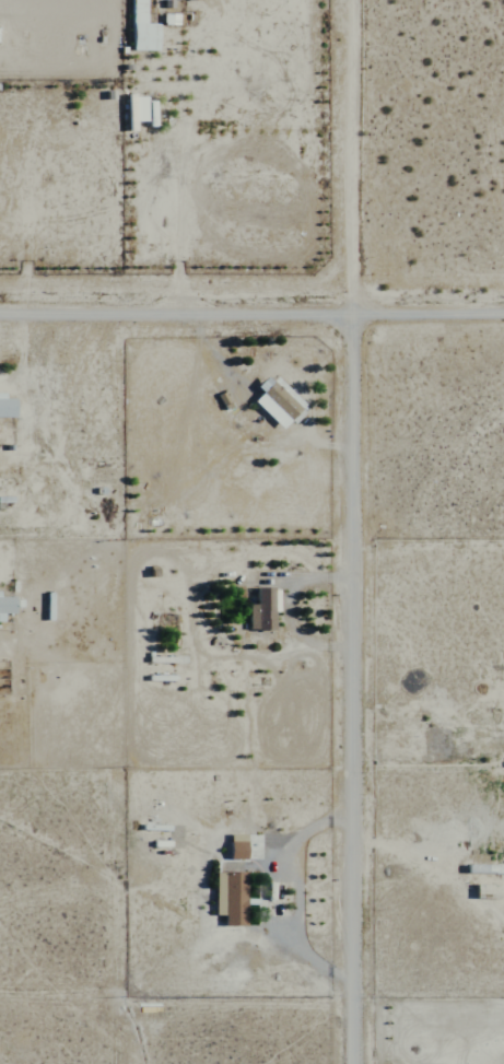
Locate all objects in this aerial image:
road: (251, 311)
road: (384, 531)

